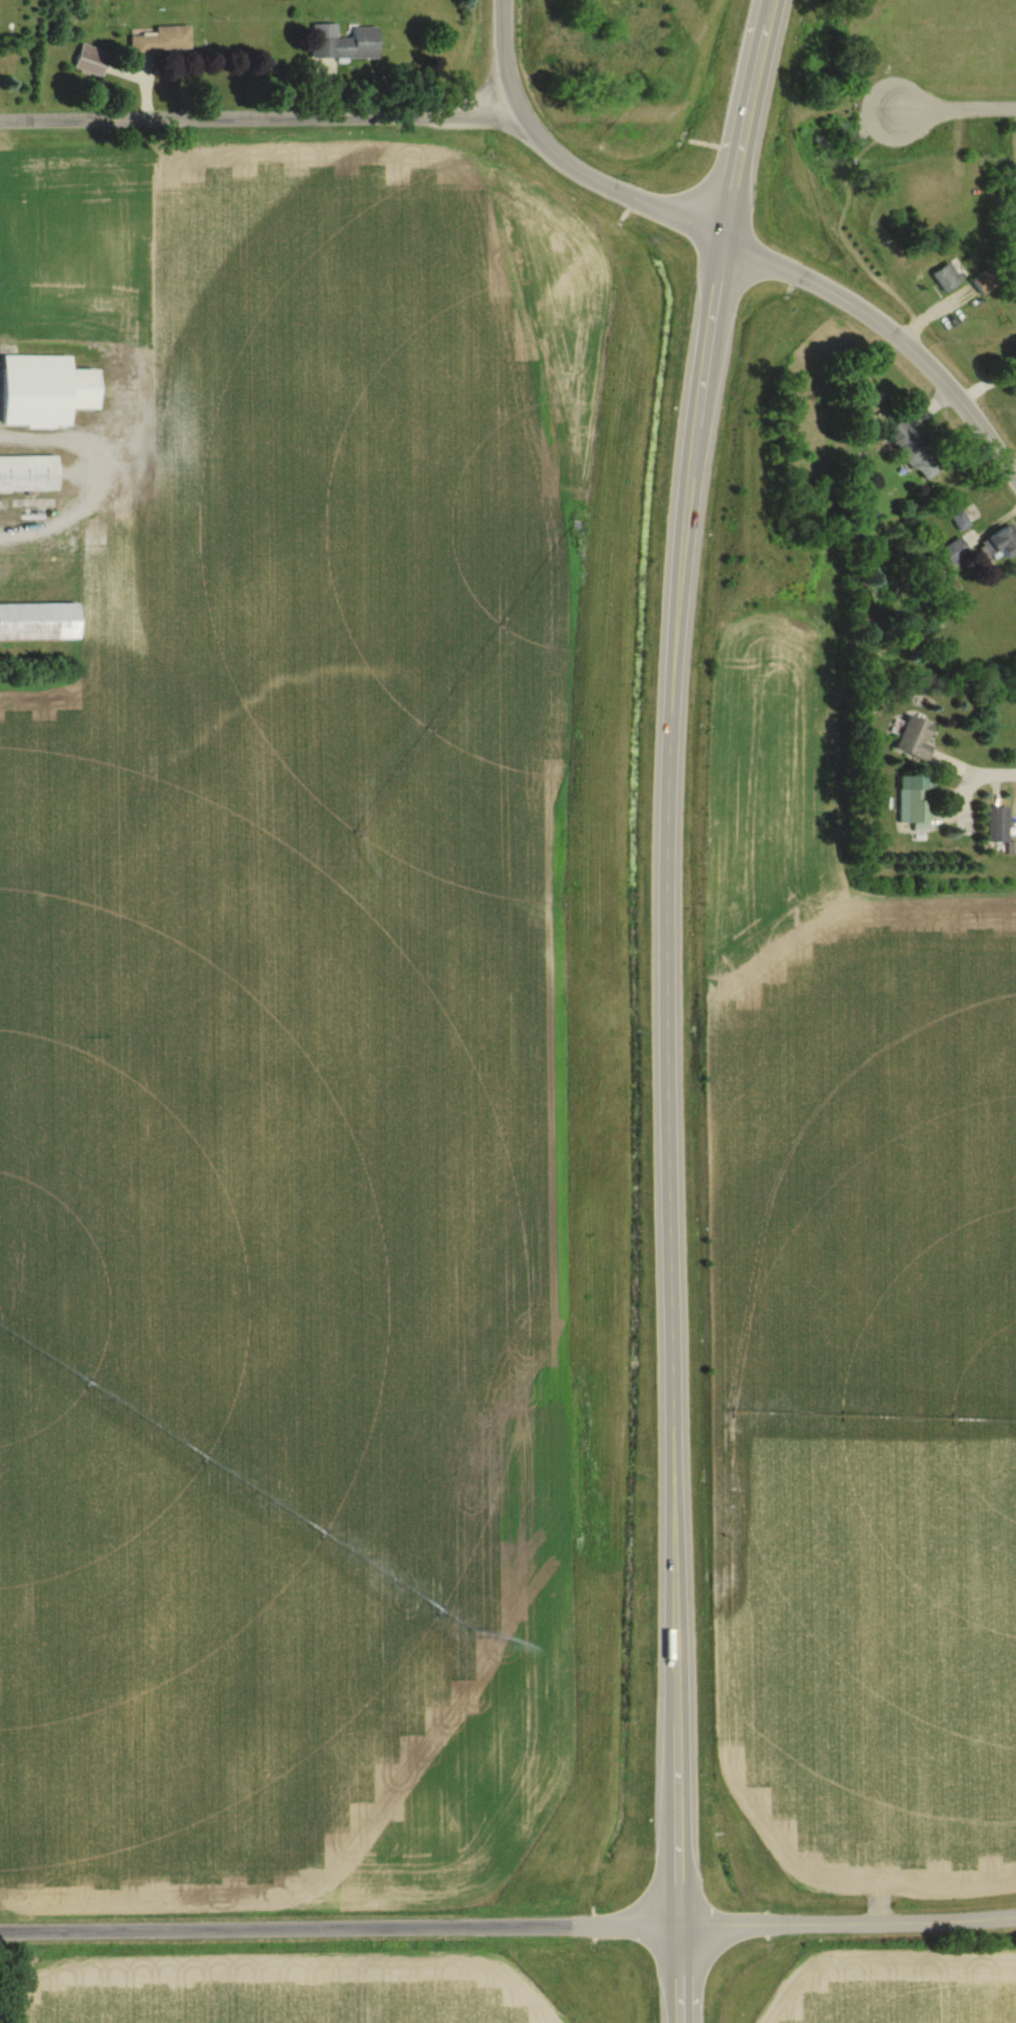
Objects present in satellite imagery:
building: (159, 41)
building: (343, 42)
building: (90, 60)
road: (959, 115)
road: (262, 116)
road: (744, 240)
building: (946, 277)
building: (986, 281)
building: (44, 391)
building: (912, 451)
building: (28, 474)
building: (1000, 544)
building: (955, 551)
building: (39, 622)
building: (914, 738)
road: (991, 769)
building: (914, 799)
building: (996, 826)
road: (681, 1006)
road: (953, 1921)
road: (787, 1924)
road: (342, 1930)
crop: (908, 1987)
crop: (297, 1996)

